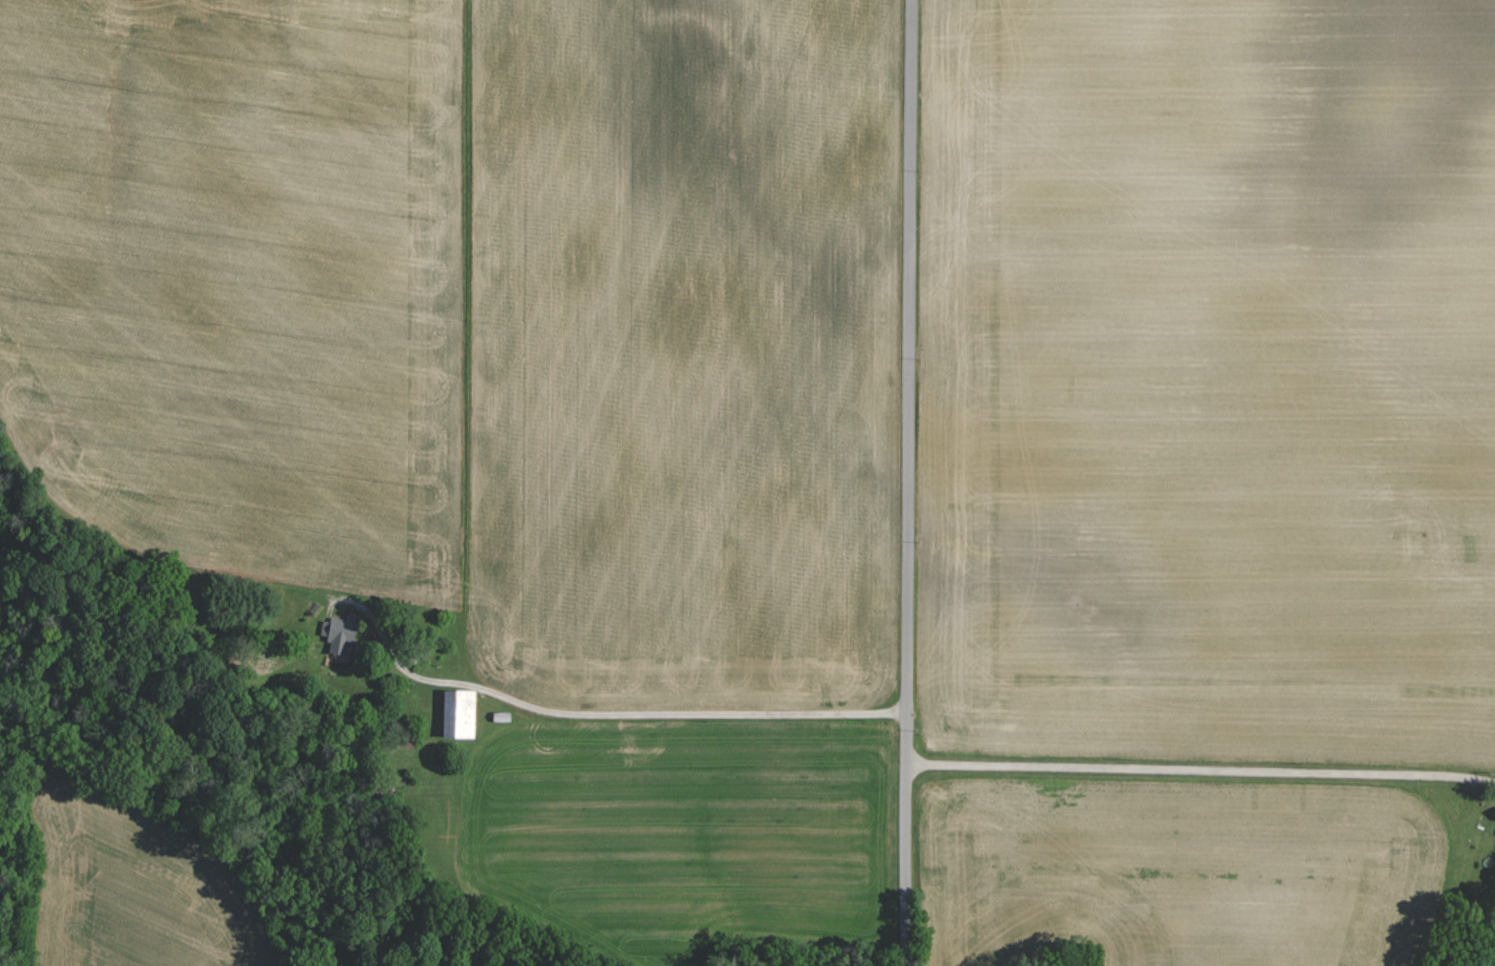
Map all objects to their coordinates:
road: (908, 483)
building: (194, 597)
building: (341, 632)
building: (460, 713)
road: (606, 722)
road: (1200, 774)

